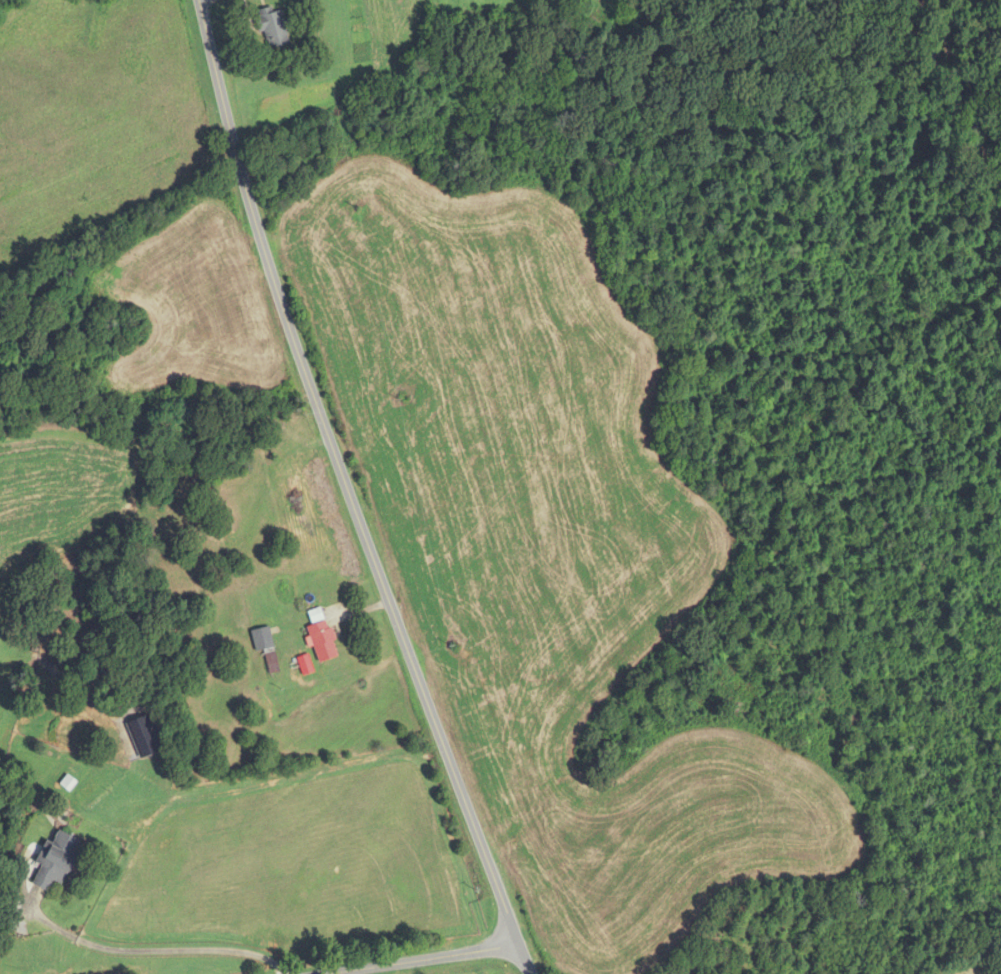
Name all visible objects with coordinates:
building: (272, 28)
road: (348, 492)
building: (320, 637)
building: (261, 640)
building: (142, 737)
building: (55, 861)
road: (161, 950)
road: (421, 959)

